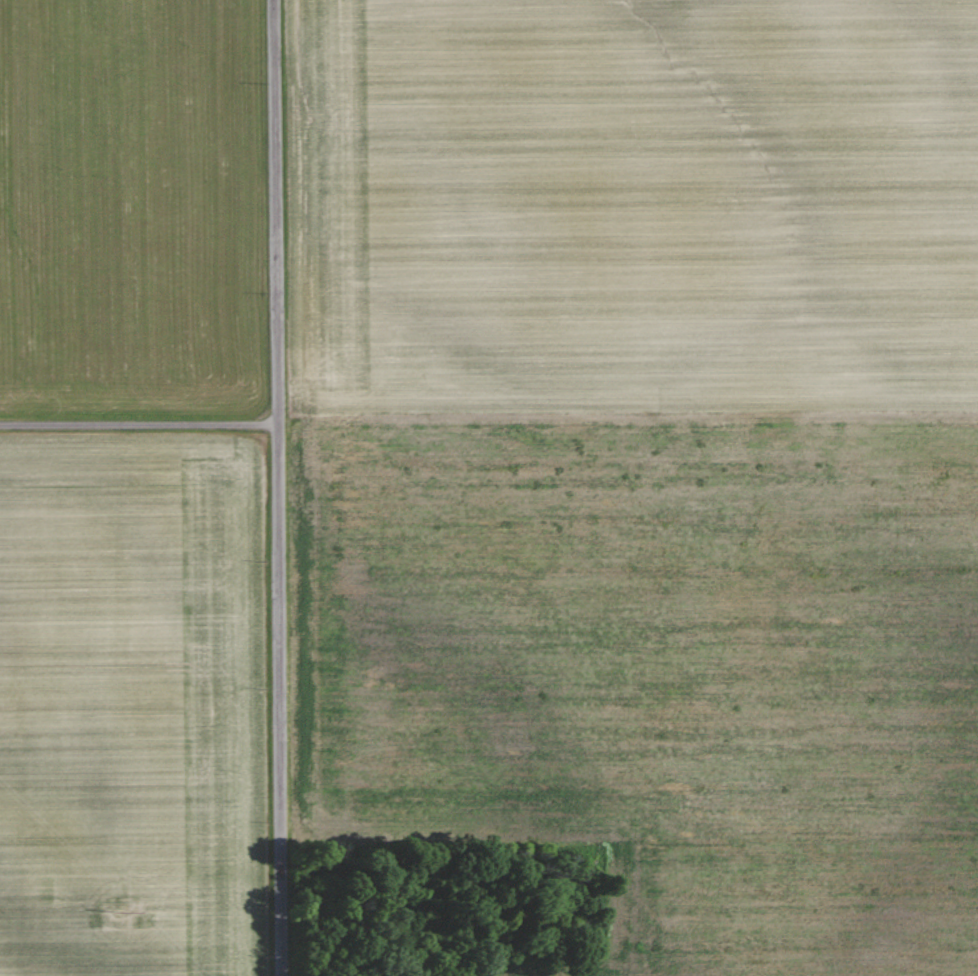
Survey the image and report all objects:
road: (138, 423)
road: (276, 487)

